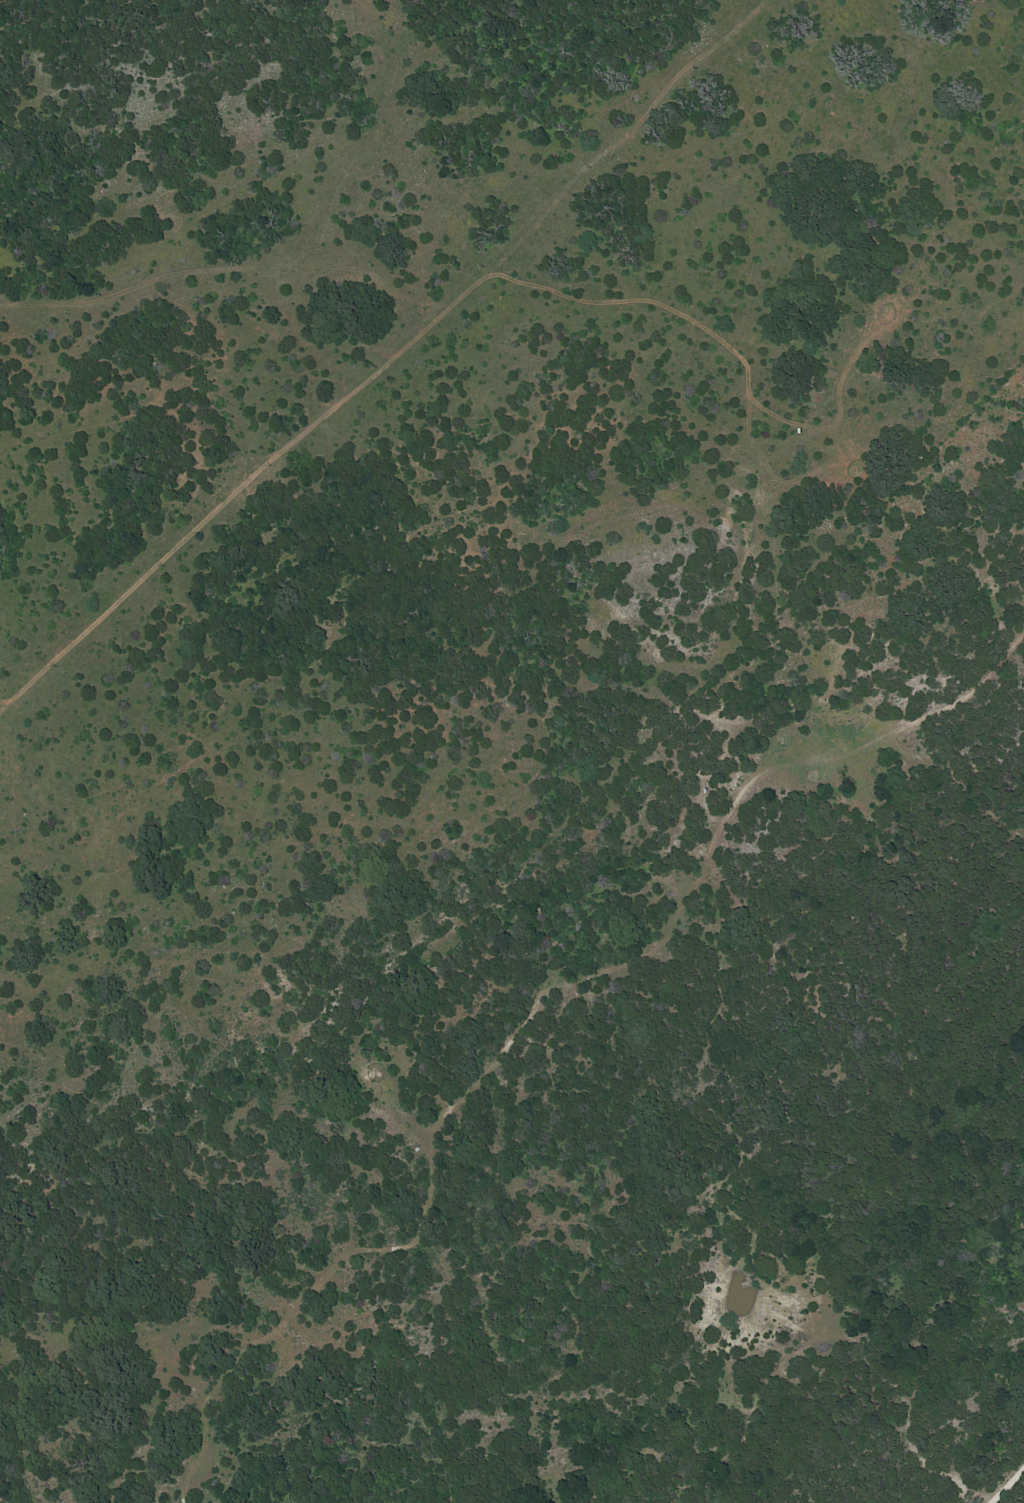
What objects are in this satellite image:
road: (1005, 1482)

